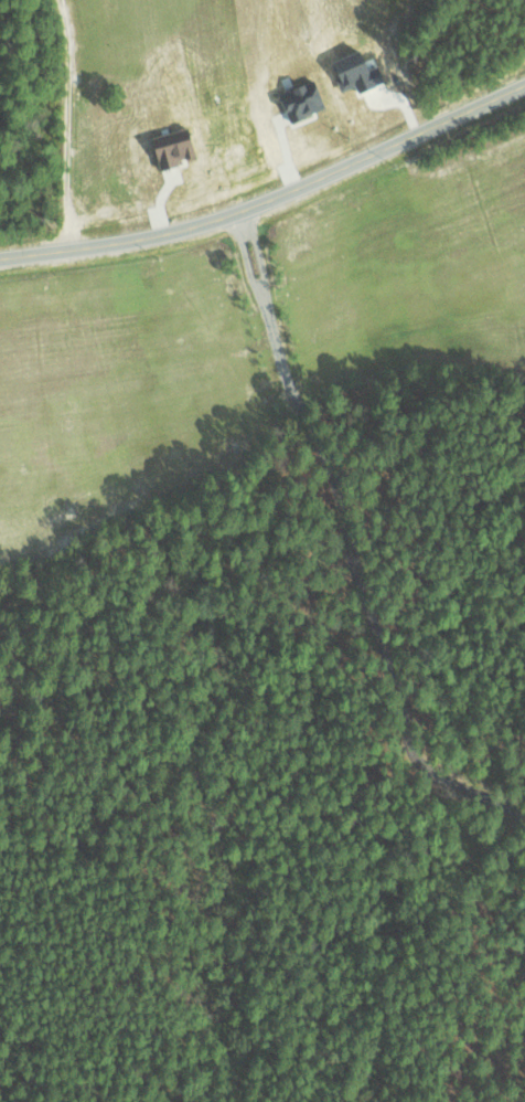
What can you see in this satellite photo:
road: (270, 200)
road: (344, 520)

